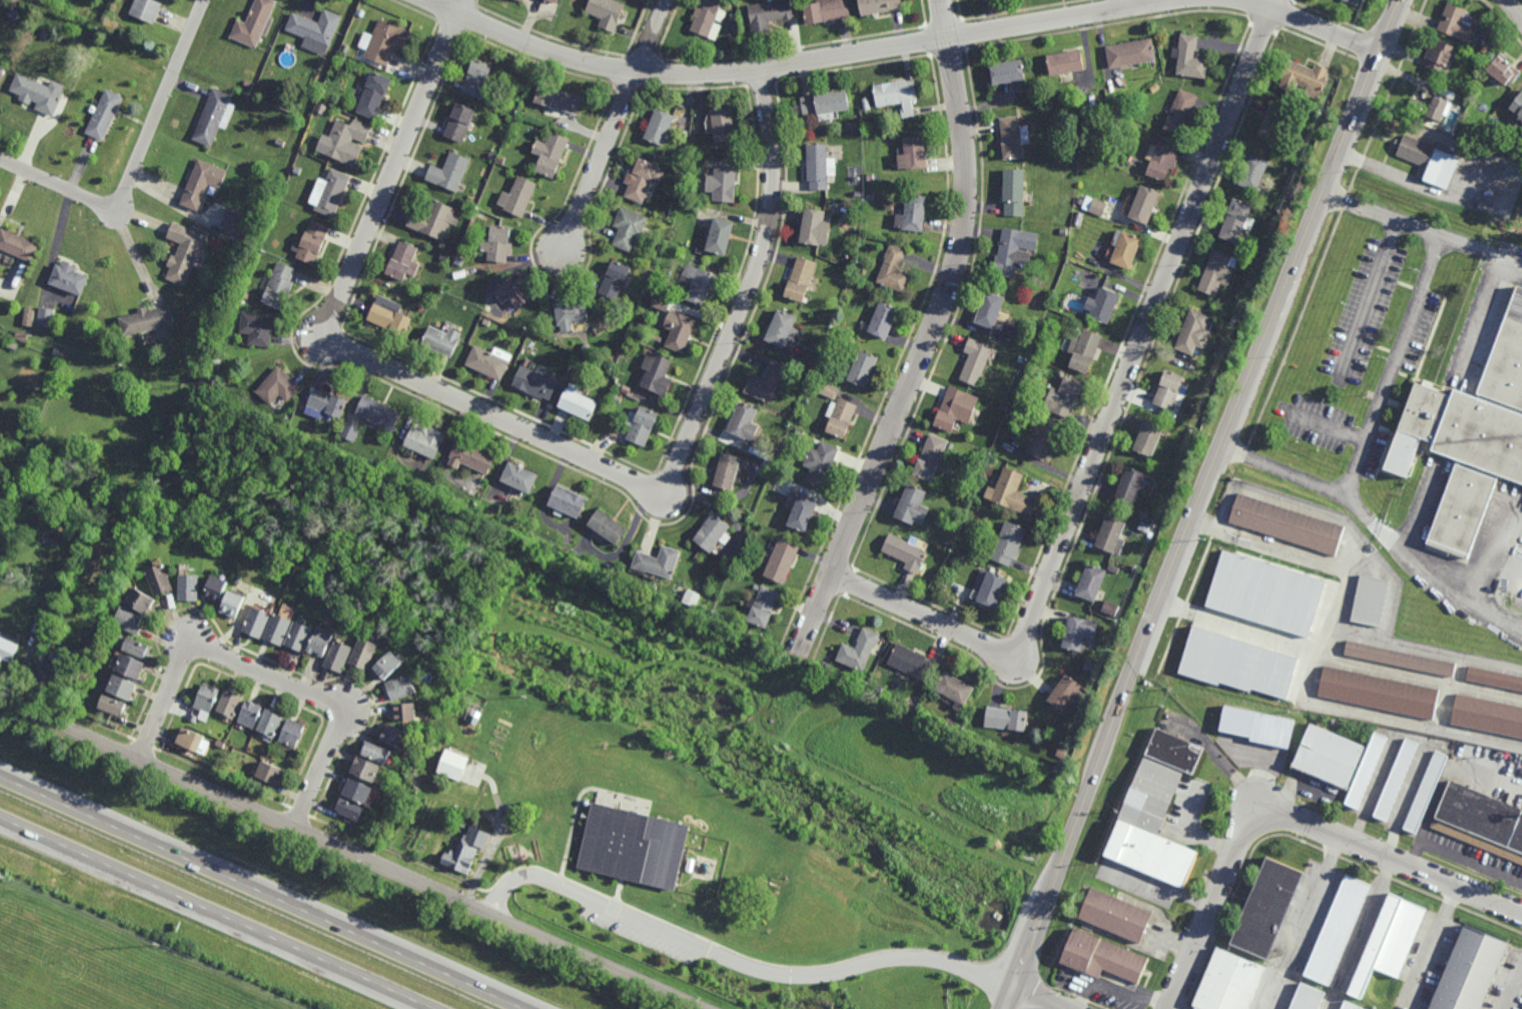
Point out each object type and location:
building: (521, 0)
building: (553, 1)
building: (1354, 2)
road: (1127, 4)
building: (880, 6)
road: (1514, 9)
building: (146, 10)
building: (826, 11)
building: (607, 12)
building: (769, 14)
building: (709, 18)
road: (1307, 22)
building: (254, 23)
building: (1458, 23)
building: (315, 30)
building: (44, 34)
road: (651, 36)
building: (385, 42)
building: (1486, 51)
building: (104, 52)
building: (1131, 53)
building: (1441, 56)
building: (1191, 58)
road: (801, 62)
building: (1066, 63)
building: (1504, 70)
building: (2, 71)
building: (1010, 72)
building: (250, 73)
building: (1305, 78)
building: (477, 80)
building: (249, 84)
building: (39, 93)
building: (375, 95)
building: (899, 95)
building: (559, 100)
building: (492, 103)
building: (826, 103)
building: (1101, 103)
building: (866, 104)
building: (1081, 105)
building: (1518, 108)
building: (1428, 109)
building: (323, 110)
building: (1181, 112)
building: (104, 115)
building: (213, 117)
building: (459, 123)
building: (1274, 124)
building: (724, 126)
building: (660, 127)
building: (1015, 137)
building: (348, 142)
building: (279, 143)
building: (550, 154)
building: (915, 154)
building: (492, 156)
building: (1069, 156)
road: (602, 158)
road: (138, 159)
building: (501, 160)
building: (1110, 160)
building: (1162, 161)
building: (1428, 161)
building: (819, 167)
building: (298, 171)
building: (449, 173)
building: (1254, 173)
building: (870, 177)
building: (643, 180)
road: (1415, 183)
building: (203, 184)
building: (723, 185)
building: (1015, 192)
building: (330, 193)
building: (860, 194)
building: (518, 197)
building: (870, 197)
building: (1144, 205)
building: (1098, 207)
building: (913, 215)
building: (434, 220)
building: (1236, 221)
building: (237, 223)
building: (628, 229)
building: (816, 229)
road: (1422, 229)
building: (1063, 231)
building: (1074, 231)
building: (721, 237)
building: (312, 243)
building: (498, 245)
building: (18, 246)
building: (700, 250)
building: (1126, 250)
building: (1014, 251)
building: (184, 253)
building: (445, 257)
building: (460, 261)
building: (403, 263)
building: (1067, 268)
building: (895, 270)
building: (1218, 273)
building: (646, 274)
building: (70, 280)
building: (800, 280)
building: (615, 281)
building: (698, 284)
building: (280, 287)
building: (515, 291)
road: (1370, 299)
building: (242, 304)
building: (660, 304)
building: (1053, 305)
building: (1103, 306)
building: (991, 311)
building: (1242, 314)
building: (571, 315)
building: (28, 317)
building: (390, 317)
building: (46, 318)
building: (147, 320)
building: (882, 321)
building: (259, 327)
building: (781, 329)
building: (679, 331)
building: (1194, 333)
road: (930, 335)
building: (150, 336)
building: (657, 339)
building: (441, 341)
building: (1021, 346)
building: (585, 348)
building: (1084, 349)
building: (59, 352)
building: (609, 358)
building: (188, 359)
building: (1020, 359)
building: (203, 360)
building: (53, 361)
building: (489, 361)
building: (582, 361)
building: (976, 361)
building: (808, 362)
road: (1391, 366)
building: (863, 368)
building: (658, 374)
building: (1060, 374)
building: (766, 381)
building: (535, 382)
building: (279, 384)
building: (816, 385)
building: (1168, 388)
building: (829, 390)
building: (1064, 395)
building: (578, 401)
building: (327, 403)
building: (1019, 403)
building: (1002, 407)
building: (956, 408)
building: (379, 412)
building: (840, 416)
road: (1111, 417)
building: (744, 421)
building: (642, 424)
building: (352, 430)
building: (800, 432)
road: (531, 433)
building: (1148, 435)
building: (1468, 437)
building: (332, 439)
building: (426, 439)
building: (1043, 439)
building: (950, 447)
building: (472, 455)
building: (931, 456)
building: (993, 460)
building: (820, 463)
building: (727, 470)
building: (520, 476)
building: (1133, 482)
building: (784, 484)
building: (1013, 491)
building: (568, 500)
road: (1197, 502)
building: (914, 504)
building: (803, 511)
building: (1142, 513)
building: (1147, 515)
building: (1288, 523)
building: (1145, 525)
building: (608, 526)
road: (1377, 529)
building: (712, 531)
building: (1, 534)
building: (1111, 534)
building: (1010, 542)
building: (949, 543)
building: (906, 552)
road: (1485, 559)
building: (782, 560)
building: (660, 561)
building: (611, 567)
building: (1113, 567)
building: (724, 569)
building: (160, 578)
building: (1090, 581)
building: (1266, 581)
building: (190, 585)
building: (655, 587)
building: (217, 588)
building: (994, 588)
building: (293, 590)
building: (692, 597)
building: (142, 599)
building: (1371, 600)
building: (54, 603)
building: (235, 603)
building: (763, 605)
building: (1110, 607)
building: (702, 609)
building: (129, 619)
building: (258, 622)
building: (1274, 622)
building: (41, 626)
building: (280, 628)
building: (1078, 631)
building: (102, 635)
building: (300, 636)
building: (323, 642)
building: (138, 647)
building: (8, 649)
building: (860, 650)
building: (364, 652)
building: (340, 656)
building: (1400, 658)
building: (441, 659)
building: (911, 661)
building: (1209, 664)
building: (386, 665)
building: (131, 666)
building: (48, 668)
building: (76, 673)
road: (268, 674)
building: (1494, 677)
building: (858, 680)
building: (69, 683)
building: (123, 687)
building: (401, 687)
building: (957, 689)
building: (879, 690)
building: (1063, 692)
building: (1379, 692)
building: (208, 698)
building: (231, 704)
building: (113, 705)
building: (403, 712)
building: (252, 714)
building: (1488, 715)
building: (194, 718)
building: (1007, 718)
building: (272, 722)
building: (1258, 726)
building: (294, 733)
building: (394, 736)
building: (192, 740)
building: (222, 744)
building: (1175, 751)
building: (1061, 752)
building: (375, 753)
building: (1329, 756)
building: (452, 762)
building: (367, 770)
building: (1366, 770)
road: (1234, 772)
building: (273, 773)
building: (1396, 779)
building: (359, 791)
building: (1426, 792)
building: (351, 811)
building: (381, 819)
road: (1293, 819)
building: (1481, 821)
building: (462, 824)
building: (1151, 827)
building: (633, 848)
road: (352, 854)
building: (463, 856)
road: (1459, 858)
road: (1166, 891)
road: (262, 892)
building: (1268, 910)
road: (215, 913)
building: (1115, 916)
road: (1302, 923)
building: (1338, 930)
road: (1358, 934)
building: (1389, 943)
road: (1431, 945)
building: (1102, 958)
road: (740, 964)
building: (1470, 971)
building: (1229, 983)
road: (1513, 988)
road: (1041, 998)
building: (1308, 998)
building: (1349, 1006)

